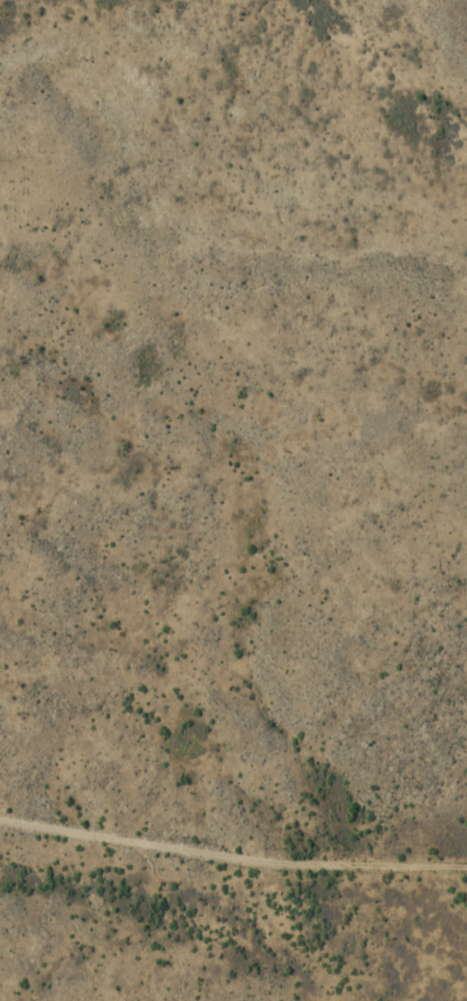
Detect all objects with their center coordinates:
road: (232, 855)

